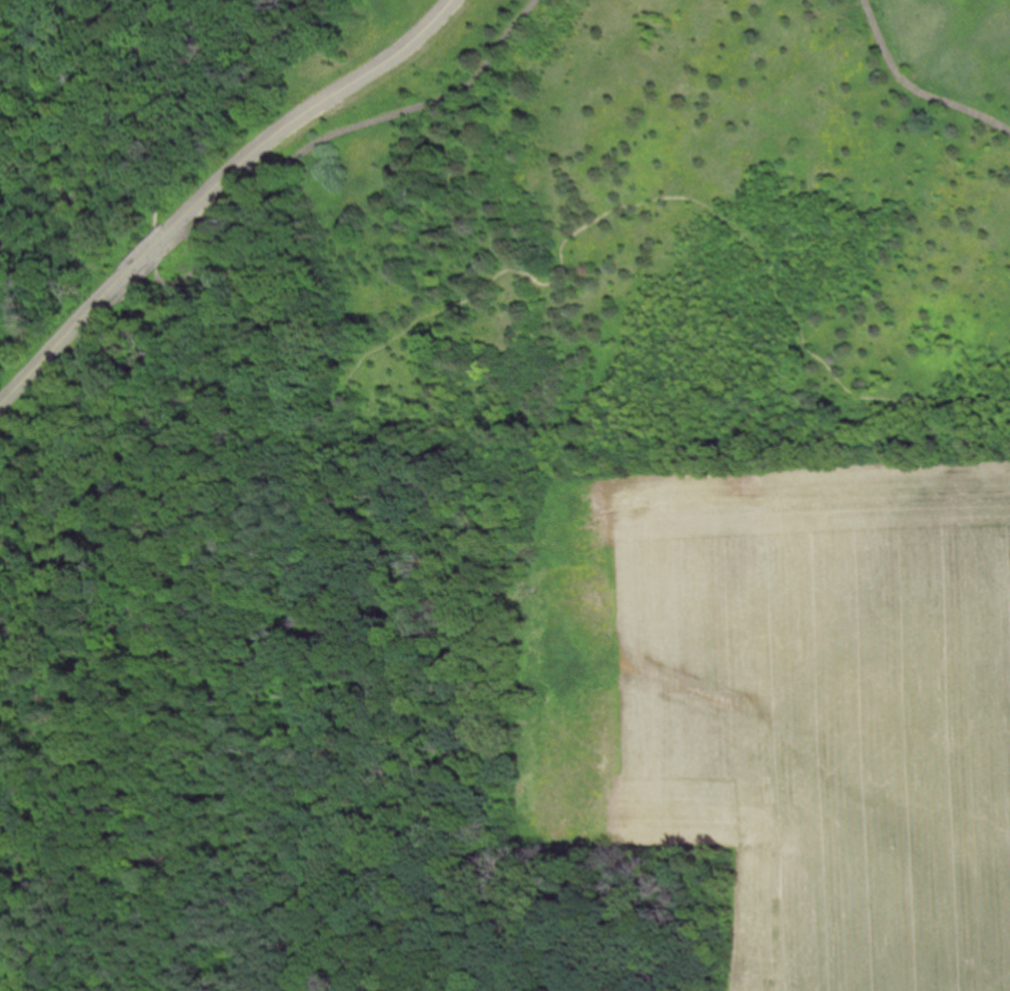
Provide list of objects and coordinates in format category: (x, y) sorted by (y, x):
road: (914, 90)
road: (311, 110)
road: (366, 122)
road: (154, 253)
road: (147, 255)
road: (150, 270)
road: (131, 291)
road: (60, 343)
road: (61, 368)
road: (368, 369)
park: (413, 369)
road: (0, 891)

